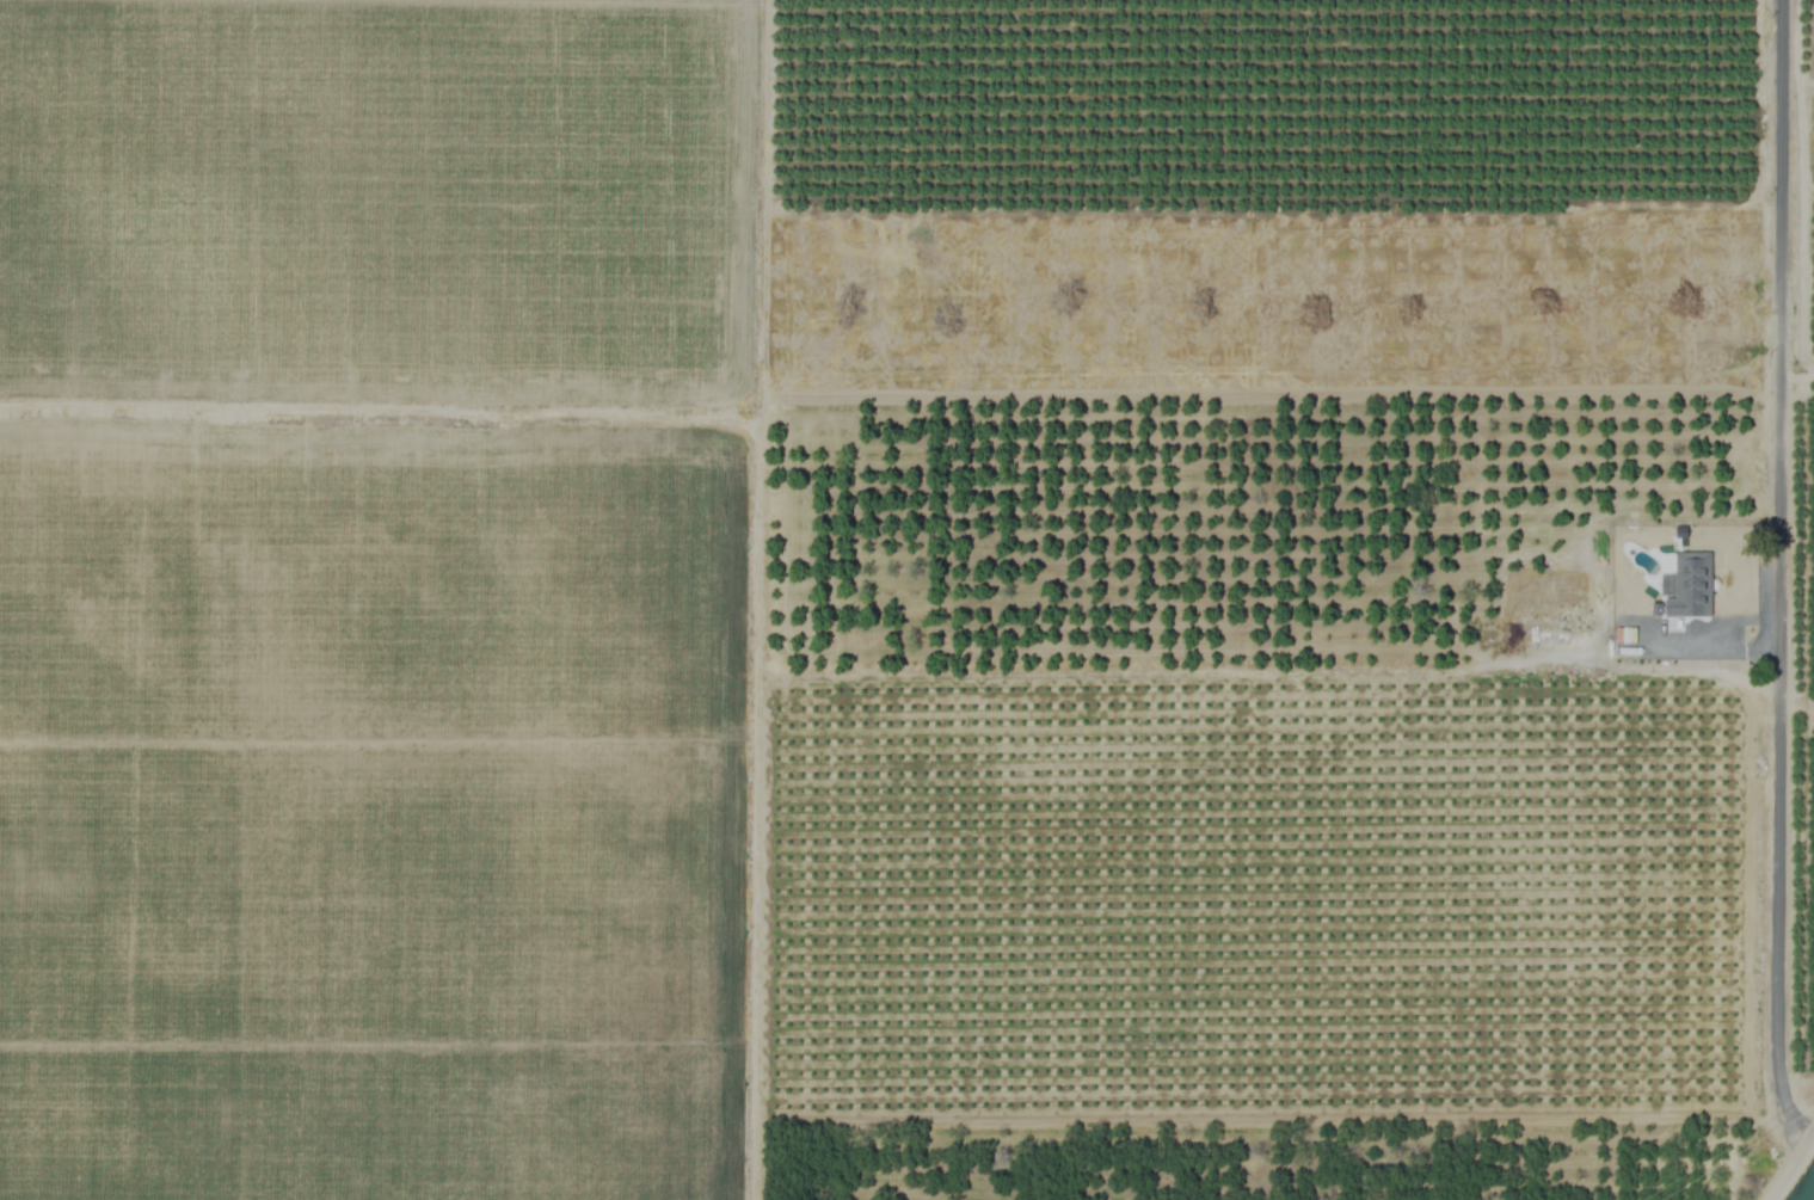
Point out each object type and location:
road: (1781, 537)

